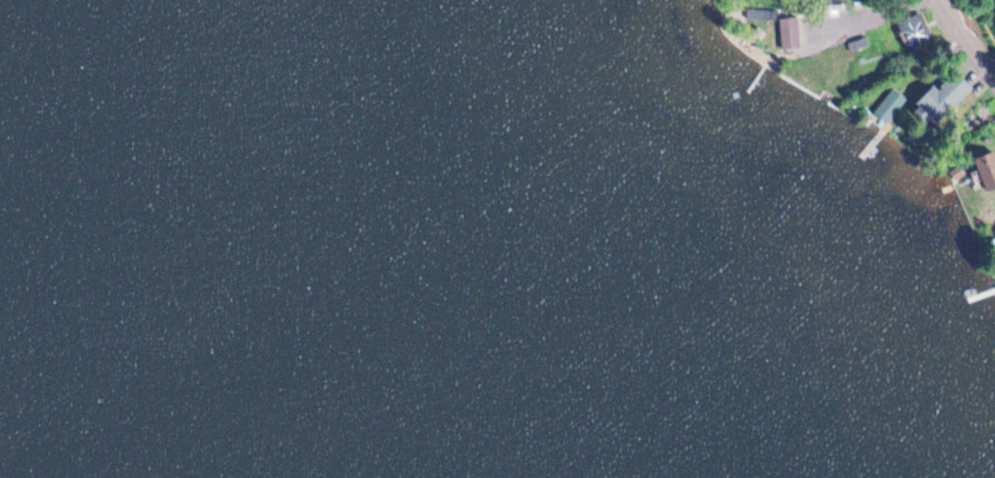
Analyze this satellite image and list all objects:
building: (763, 10)
road: (861, 11)
building: (791, 30)
building: (917, 32)
road: (970, 35)
building: (943, 98)
building: (887, 110)
building: (987, 167)

